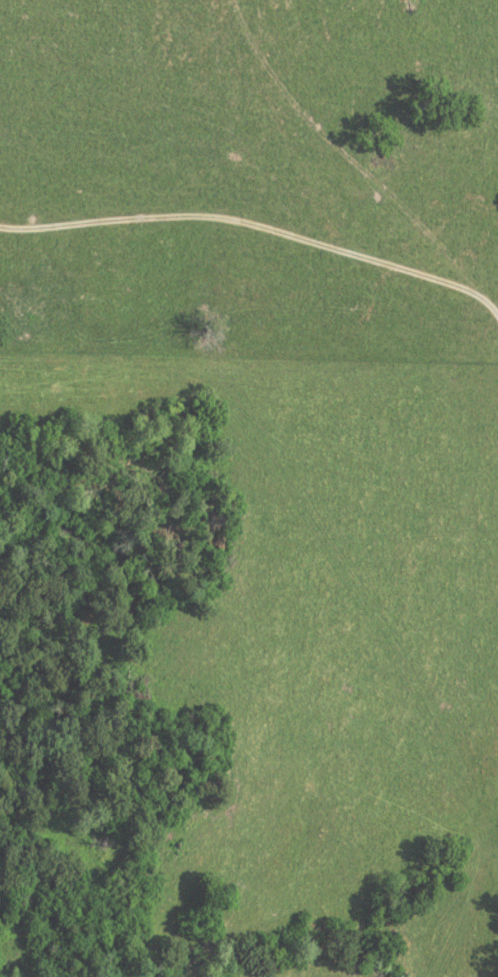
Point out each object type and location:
road: (257, 223)

